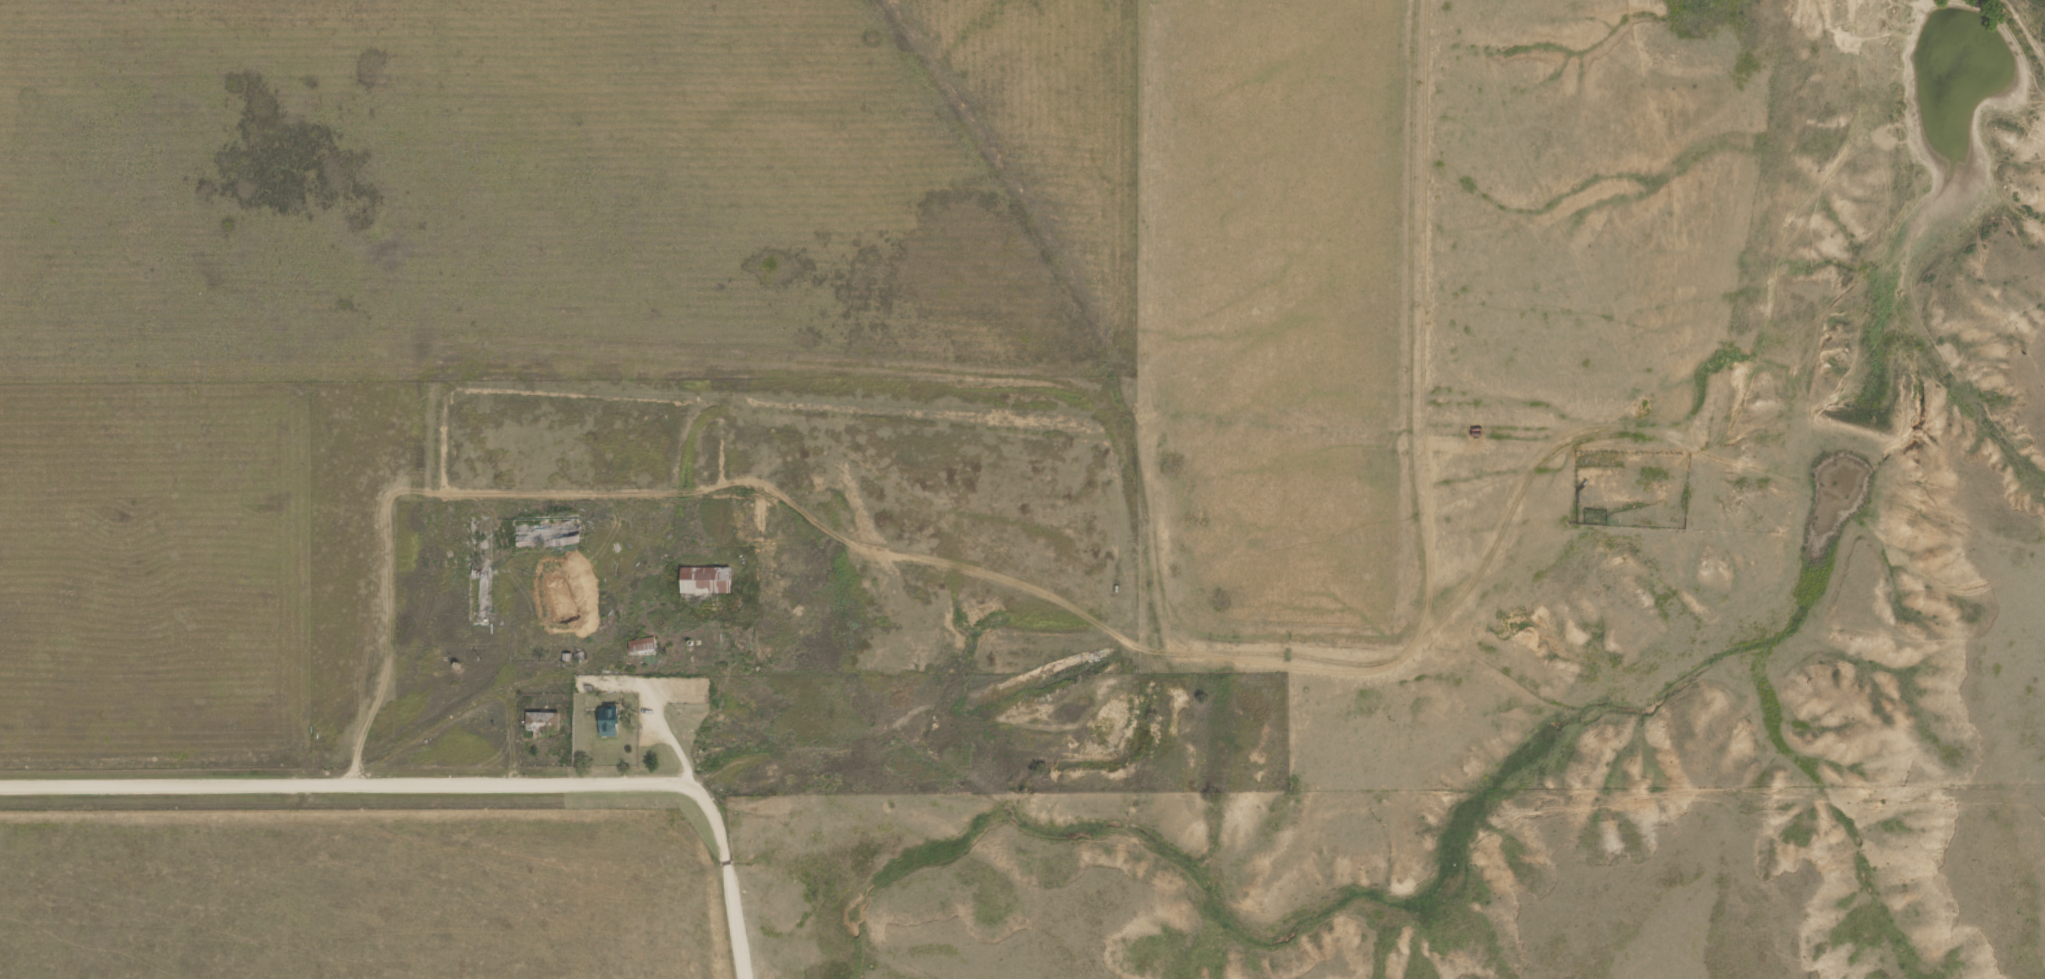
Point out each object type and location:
road: (449, 782)

